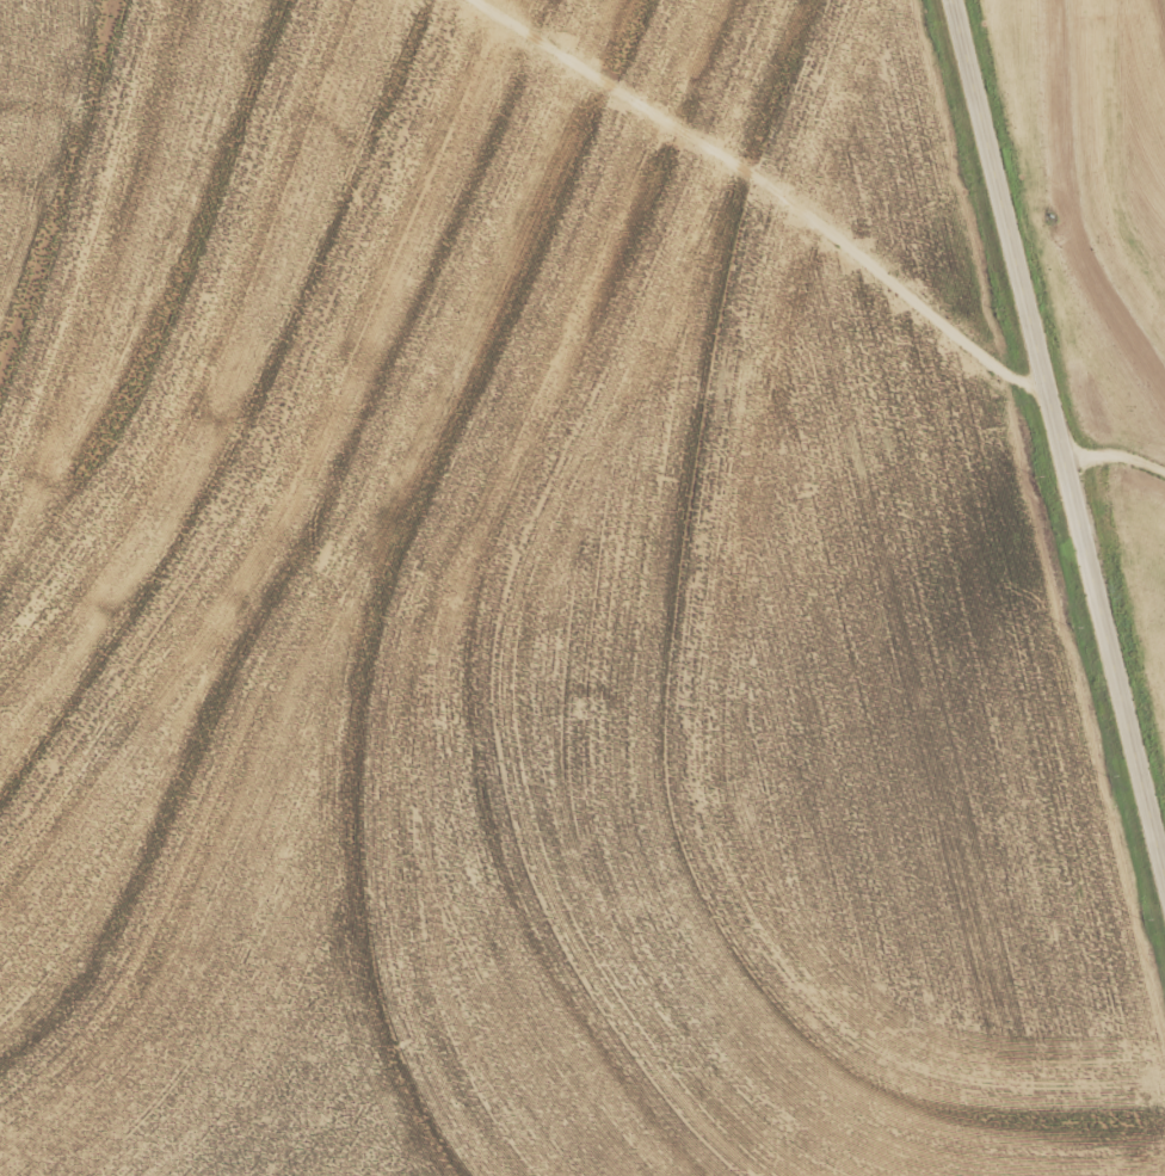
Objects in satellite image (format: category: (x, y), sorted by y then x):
road: (1060, 429)

